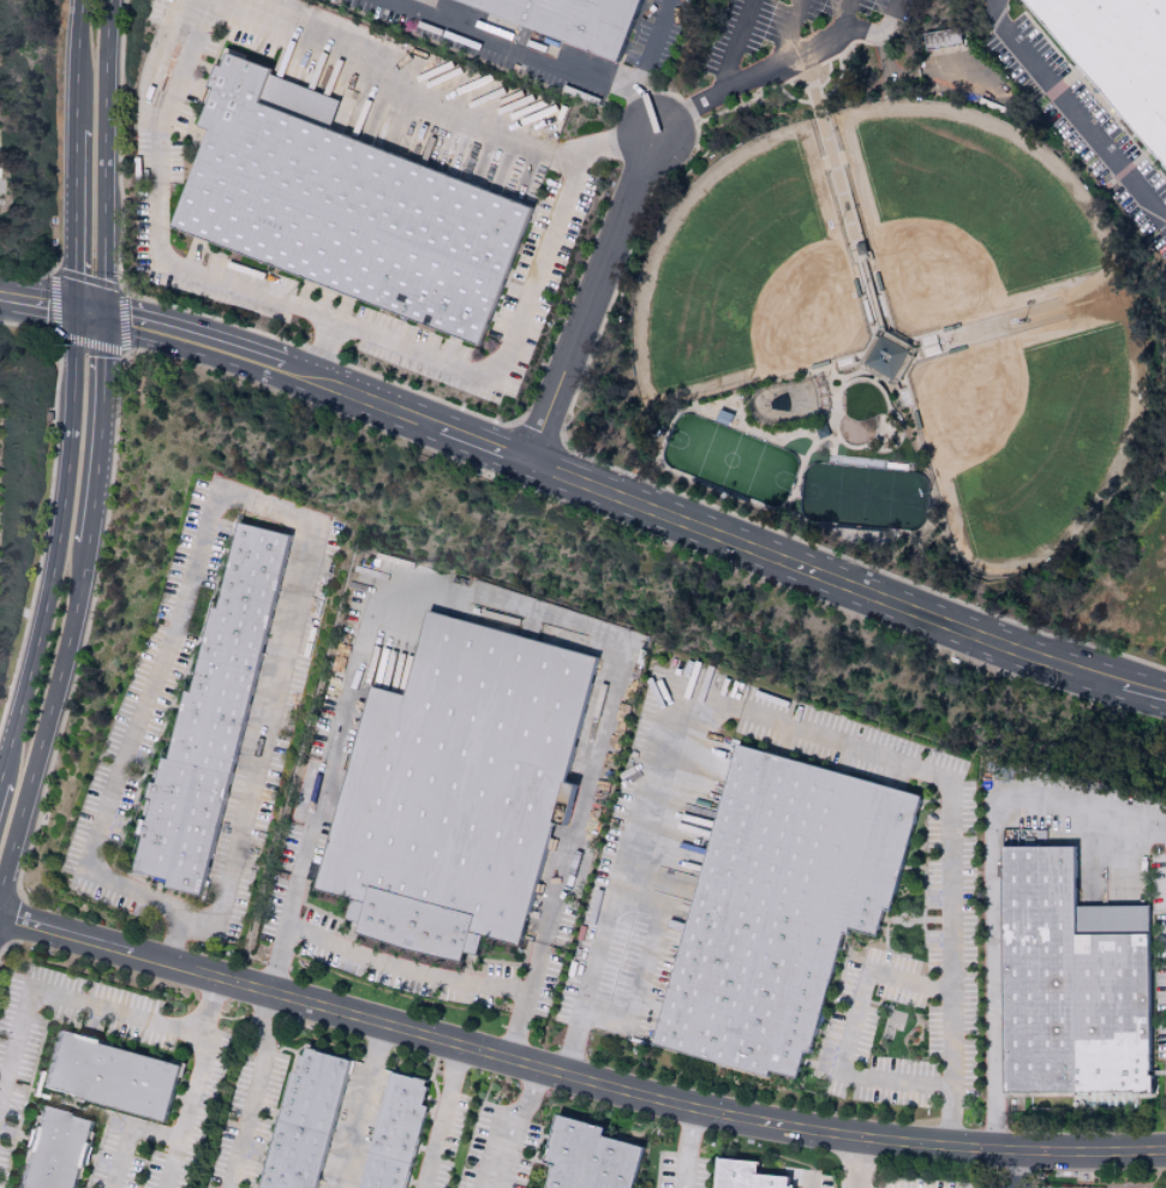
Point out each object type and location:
road: (201, 12)
road: (887, 20)
building: (572, 22)
road: (845, 23)
road: (785, 30)
parking lot: (790, 40)
road: (734, 43)
road: (519, 47)
road: (660, 47)
building: (1118, 56)
road: (755, 77)
road: (1075, 108)
road: (650, 113)
road: (78, 154)
road: (103, 156)
building: (347, 208)
park: (968, 219)
park: (748, 277)
road: (588, 297)
road: (40, 302)
traffic signals: (79, 310)
road: (91, 312)
traffic signals: (104, 315)
park: (895, 324)
road: (192, 339)
road: (501, 351)
building: (881, 357)
road: (360, 395)
park: (1029, 429)
road: (482, 444)
road: (263, 508)
road: (58, 551)
road: (821, 575)
road: (76, 599)
road: (504, 609)
road: (1143, 691)
building: (213, 720)
road: (807, 726)
building: (459, 790)
road: (1117, 858)
road: (992, 882)
building: (781, 911)
road: (406, 975)
building: (1071, 983)
road: (49, 999)
road: (636, 1005)
road: (202, 1009)
road: (845, 1038)
building: (110, 1076)
road: (575, 1077)
road: (255, 1090)
road: (359, 1105)
road: (190, 1115)
road: (438, 1116)
building: (306, 1122)
road: (512, 1126)
road: (127, 1132)
building: (397, 1134)
road: (687, 1147)
building: (56, 1151)
building: (591, 1158)
road: (859, 1163)
road: (1016, 1169)
building: (747, 1176)
road: (809, 1182)

